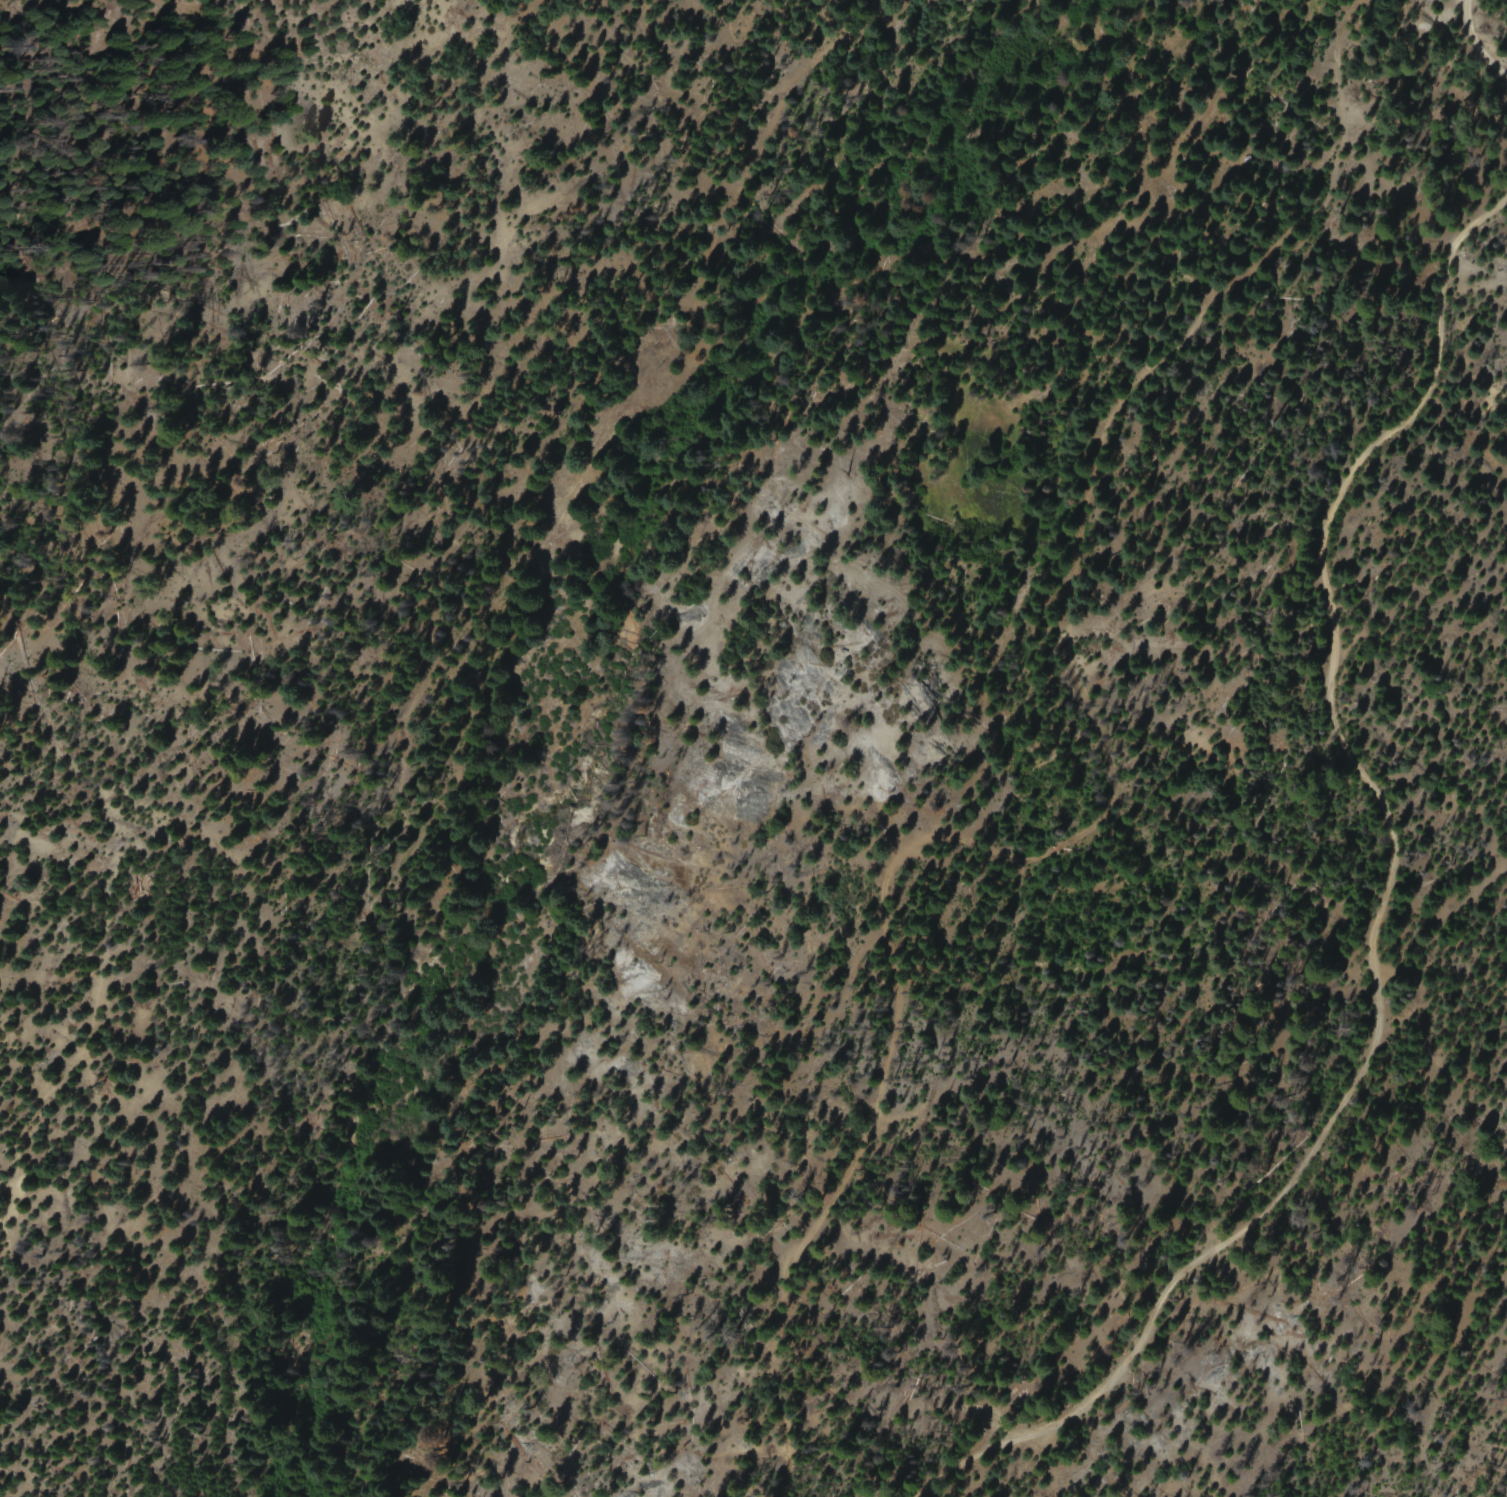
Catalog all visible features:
road: (1479, 41)
road: (1387, 921)

